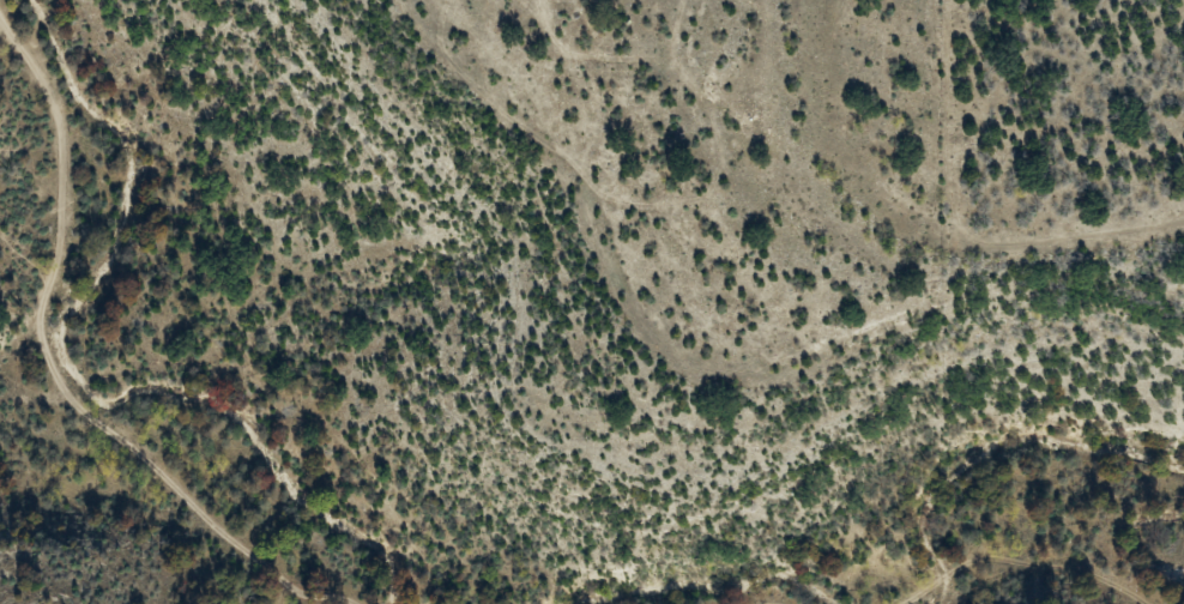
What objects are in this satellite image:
road: (30, 413)

